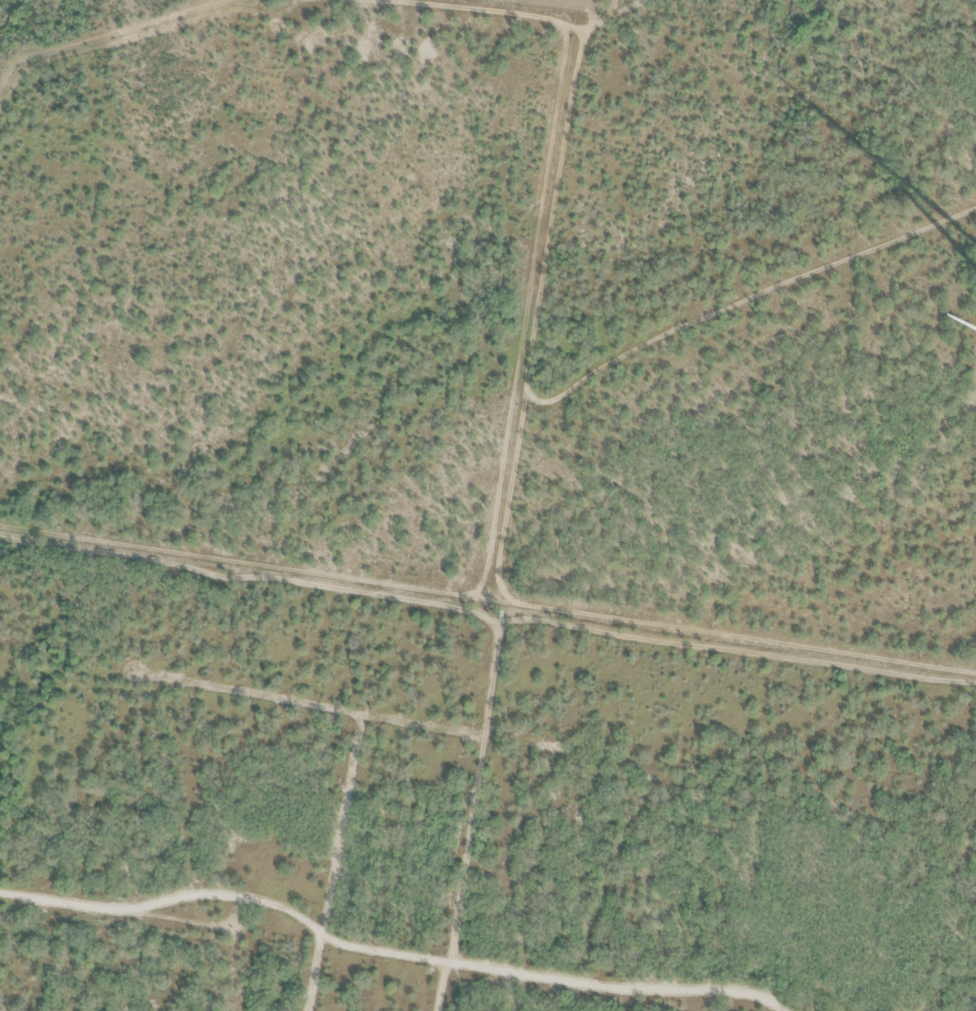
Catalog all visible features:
road: (565, 274)
road: (356, 532)
road: (840, 622)

